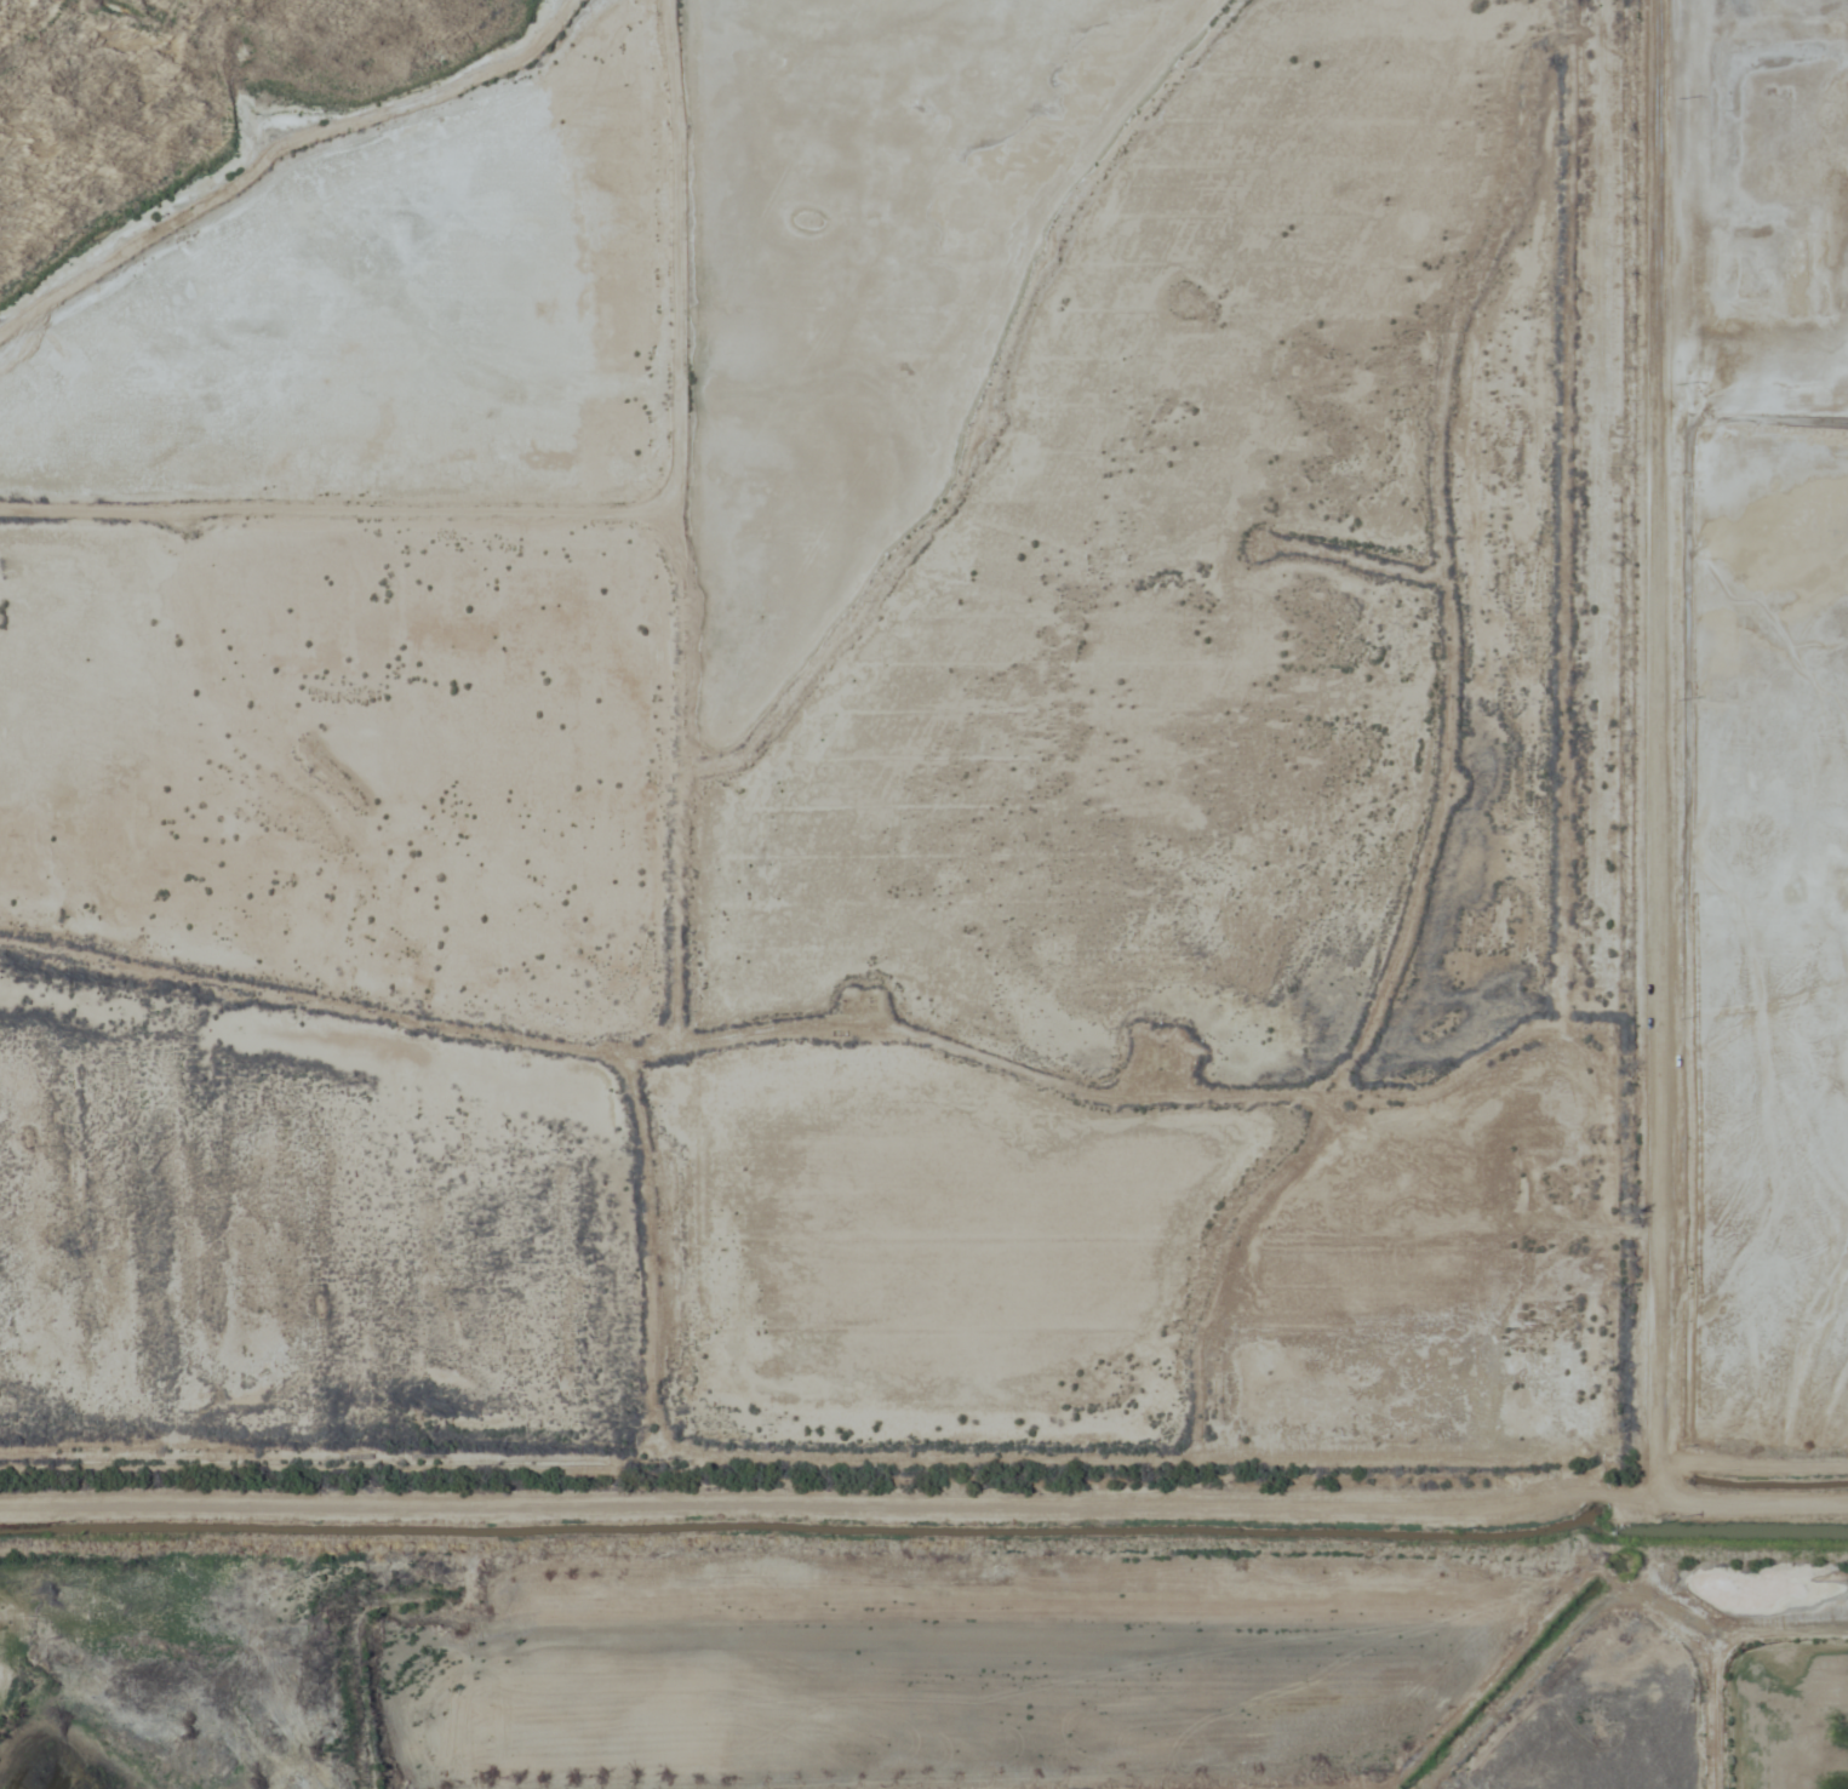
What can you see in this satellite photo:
road: (1655, 749)
road: (837, 1497)
road: (1761, 1497)

